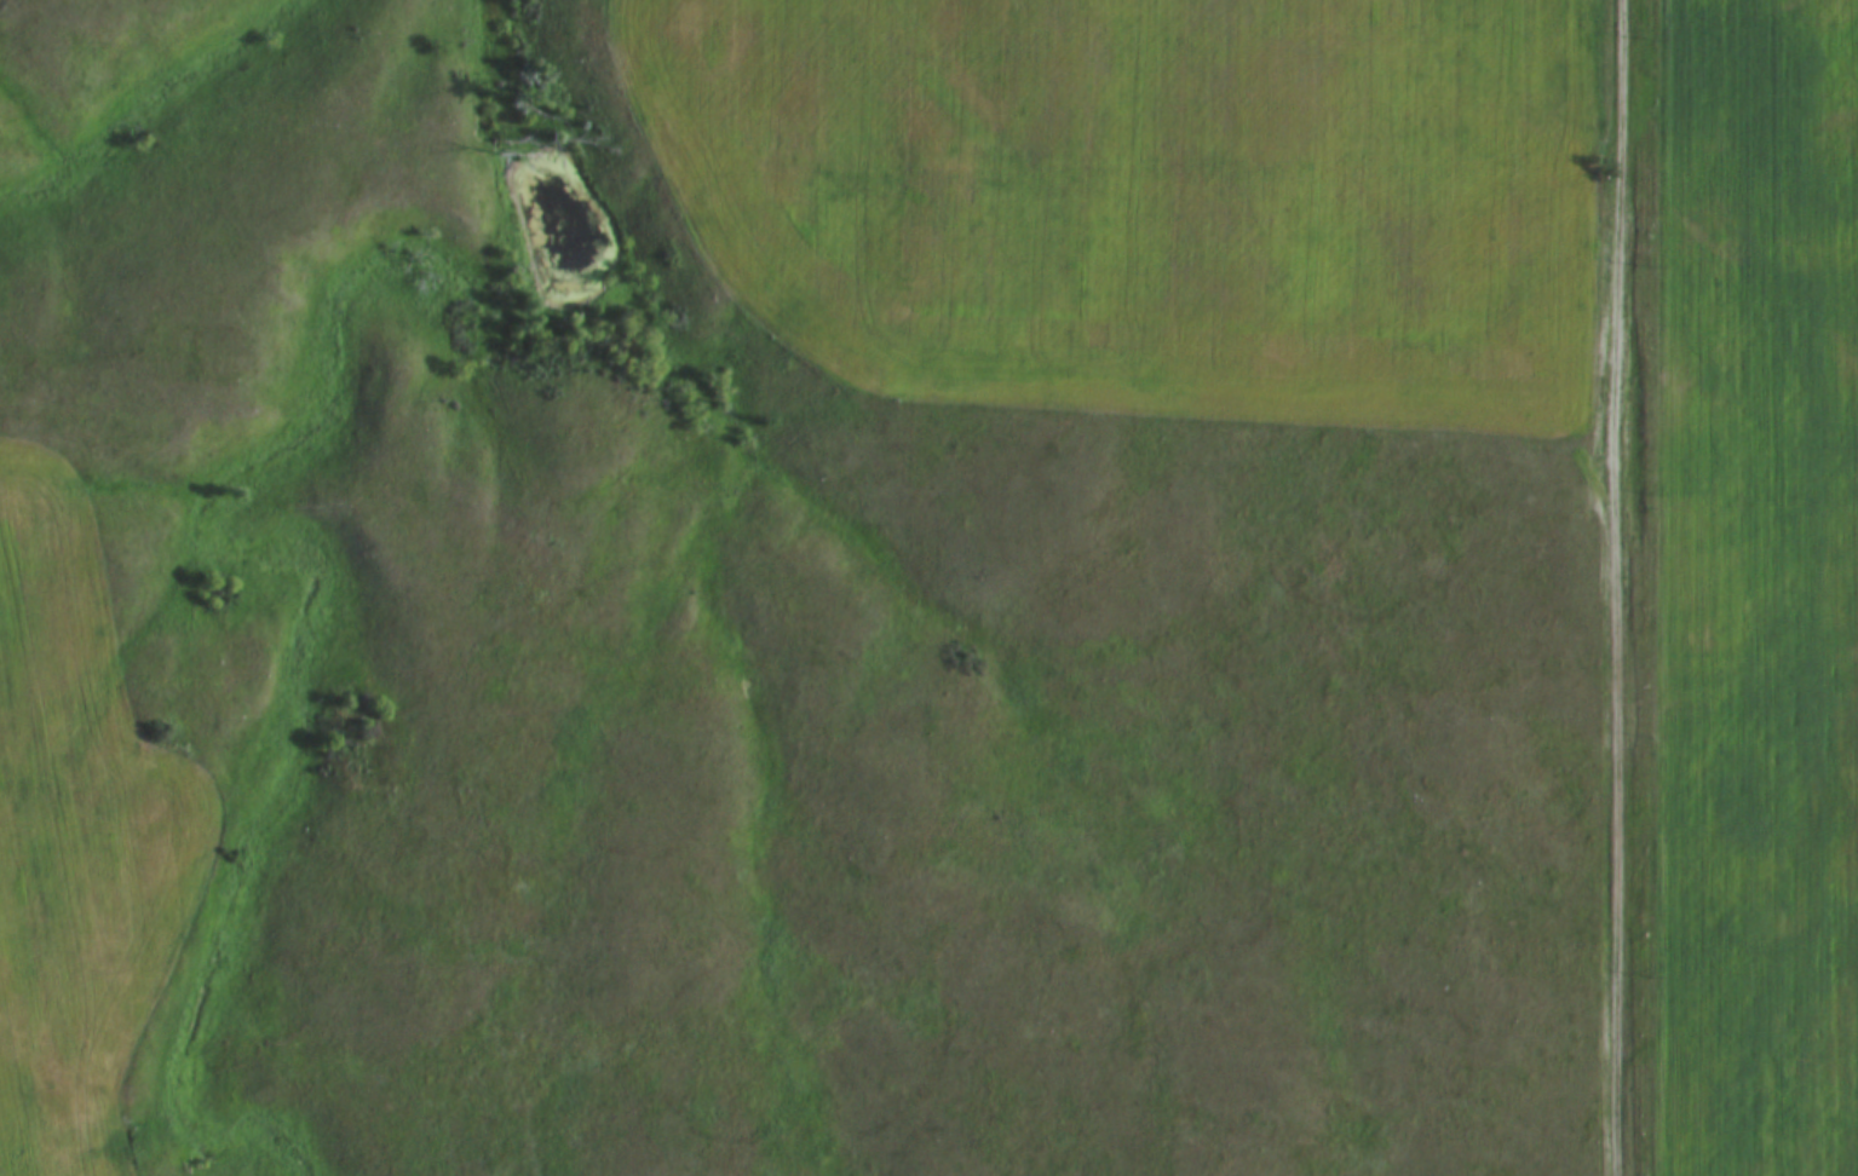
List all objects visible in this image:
road: (1618, 587)
road: (392, 703)

